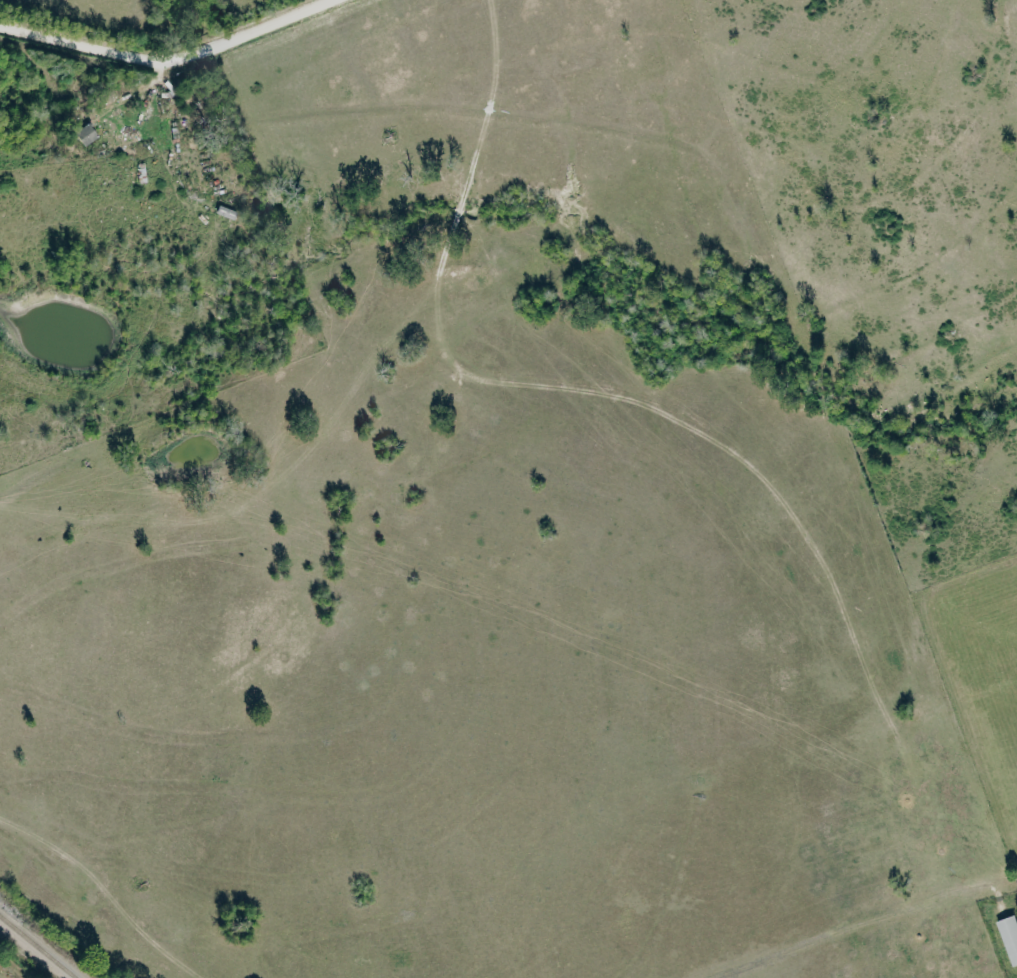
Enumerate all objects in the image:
road: (165, 58)
building: (89, 134)
building: (1011, 934)
railway: (39, 945)

